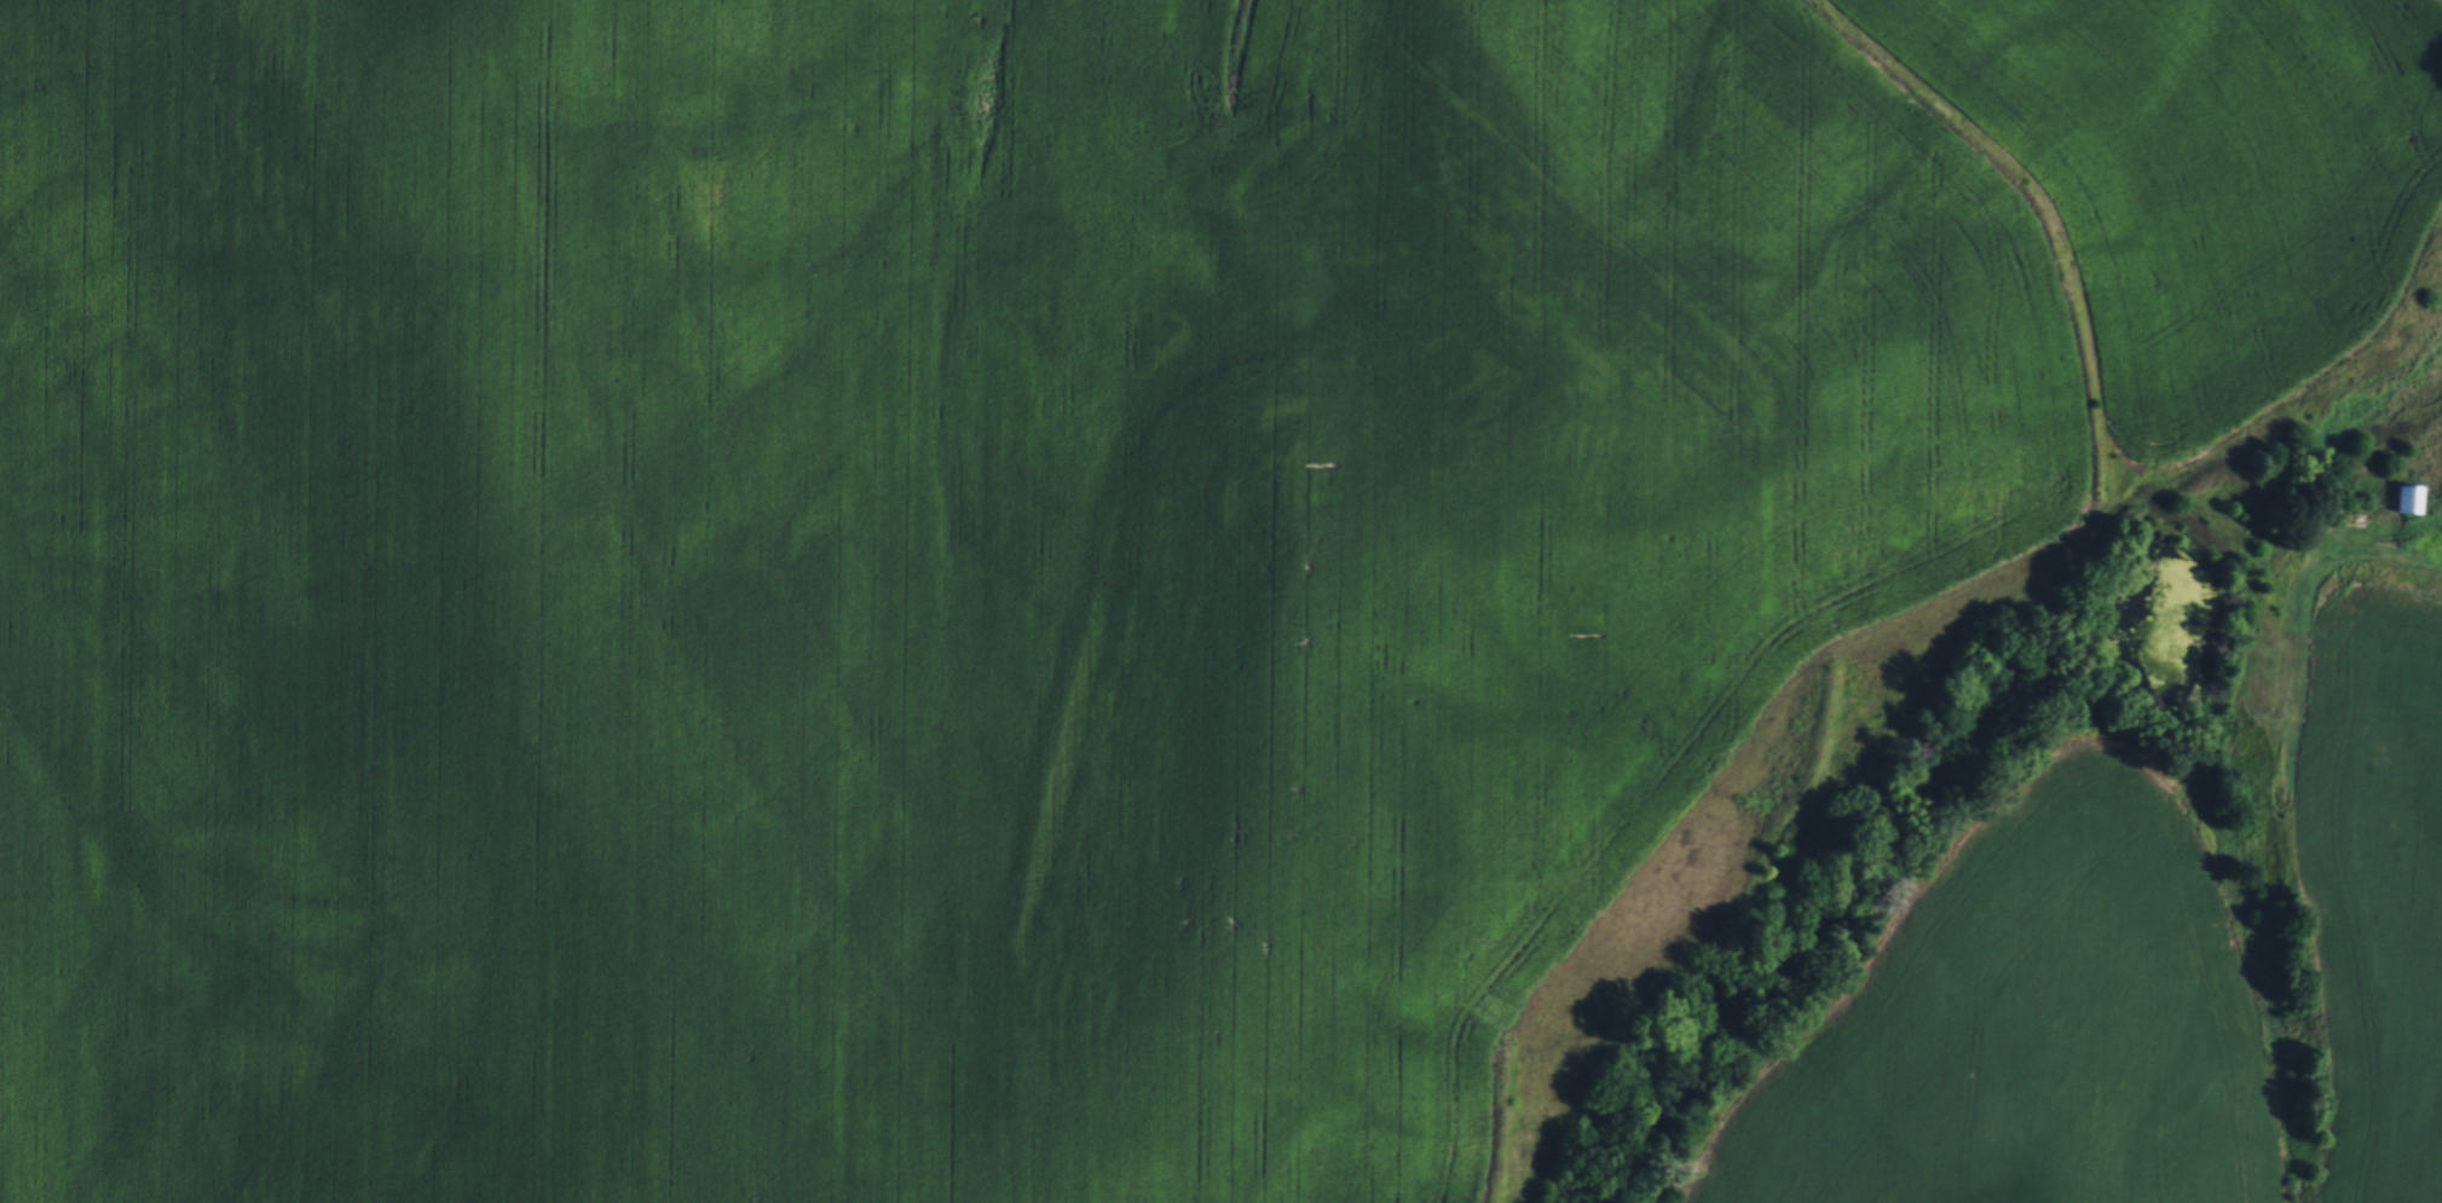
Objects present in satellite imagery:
building: (2407, 497)

